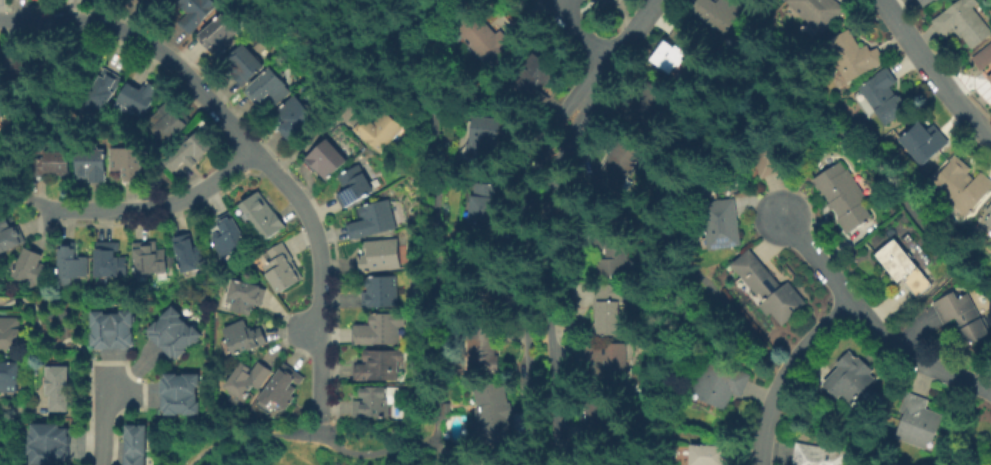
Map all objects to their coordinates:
building: (151, 1)
building: (169, 1)
building: (922, 2)
building: (816, 11)
building: (716, 12)
building: (197, 13)
building: (962, 22)
road: (579, 32)
building: (221, 34)
building: (478, 36)
building: (672, 48)
road: (615, 50)
building: (850, 56)
building: (982, 63)
building: (246, 64)
building: (19, 66)
road: (933, 71)
road: (741, 74)
building: (532, 77)
building: (270, 86)
building: (102, 91)
building: (141, 95)
building: (882, 97)
road: (349, 103)
building: (647, 104)
building: (4, 110)
building: (298, 116)
building: (168, 123)
building: (380, 129)
building: (486, 135)
building: (921, 142)
road: (250, 145)
building: (191, 152)
building: (771, 153)
building: (330, 158)
building: (130, 162)
building: (93, 163)
building: (54, 164)
building: (617, 167)
building: (356, 185)
building: (960, 186)
building: (842, 196)
road: (144, 208)
building: (483, 210)
road: (599, 214)
building: (265, 215)
building: (988, 216)
building: (375, 219)
building: (719, 222)
road: (437, 232)
building: (10, 235)
building: (231, 235)
building: (990, 244)
building: (607, 250)
building: (191, 253)
building: (382, 255)
building: (153, 258)
building: (112, 259)
building: (73, 263)
building: (283, 267)
building: (34, 268)
building: (900, 268)
road: (520, 271)
road: (544, 279)
building: (767, 287)
building: (492, 288)
building: (382, 291)
building: (249, 296)
building: (605, 307)
building: (960, 317)
road: (871, 323)
building: (117, 329)
building: (382, 329)
building: (11, 333)
building: (178, 333)
building: (247, 336)
road: (46, 342)
building: (482, 348)
building: (381, 365)
building: (607, 365)
road: (780, 371)
road: (782, 374)
building: (10, 376)
building: (847, 376)
building: (251, 378)
building: (718, 384)
building: (285, 386)
building: (61, 388)
building: (184, 393)
building: (377, 401)
road: (27, 408)
building: (488, 408)
road: (103, 420)
building: (594, 420)
road: (835, 420)
building: (916, 420)
road: (320, 429)
road: (302, 433)
road: (227, 438)
building: (49, 444)
building: (139, 444)
road: (379, 453)
building: (703, 454)
building: (816, 454)
building: (480, 460)
building: (990, 464)

